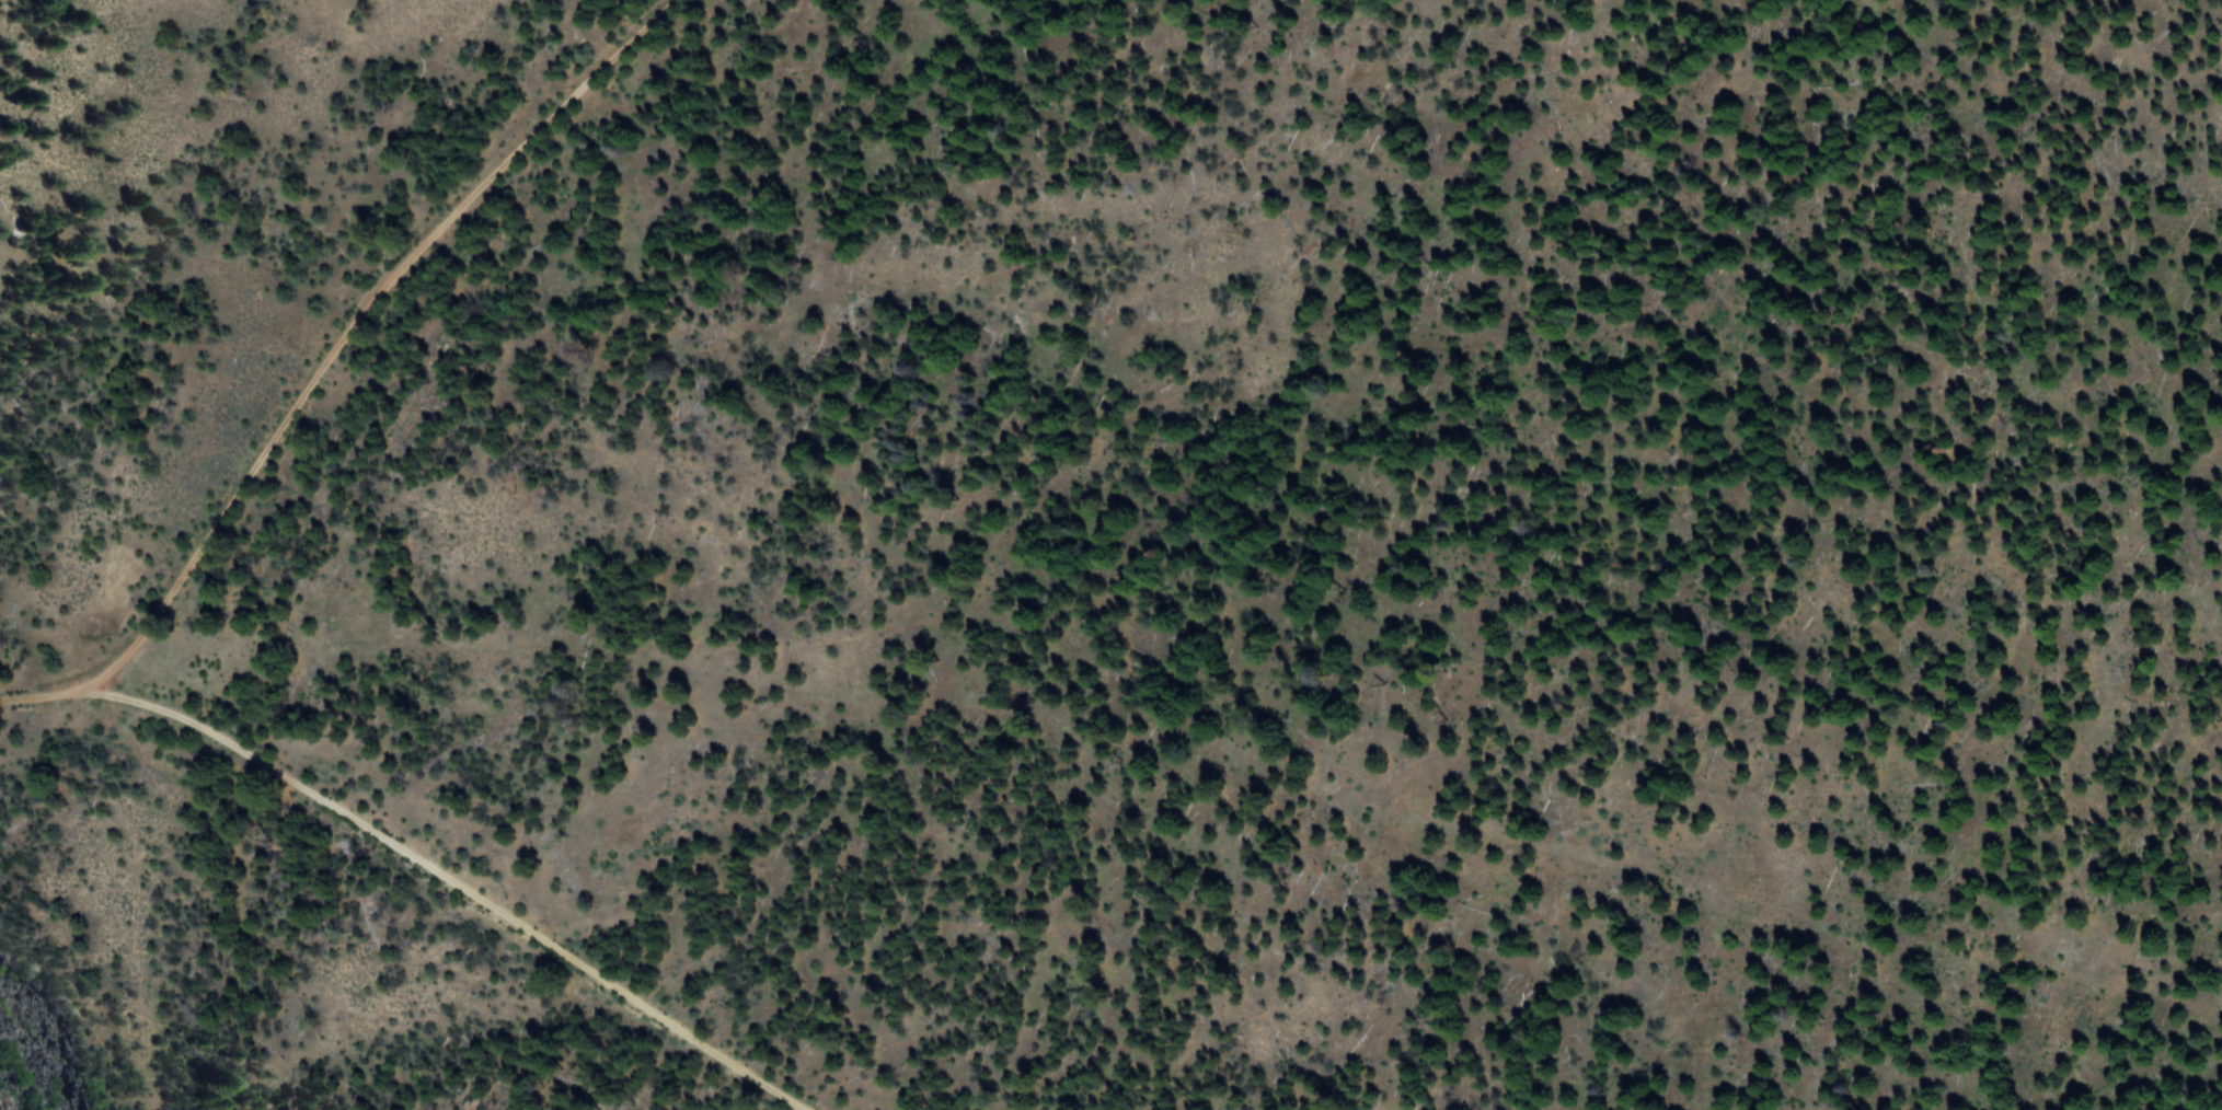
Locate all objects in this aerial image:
road: (360, 338)
road: (417, 859)

